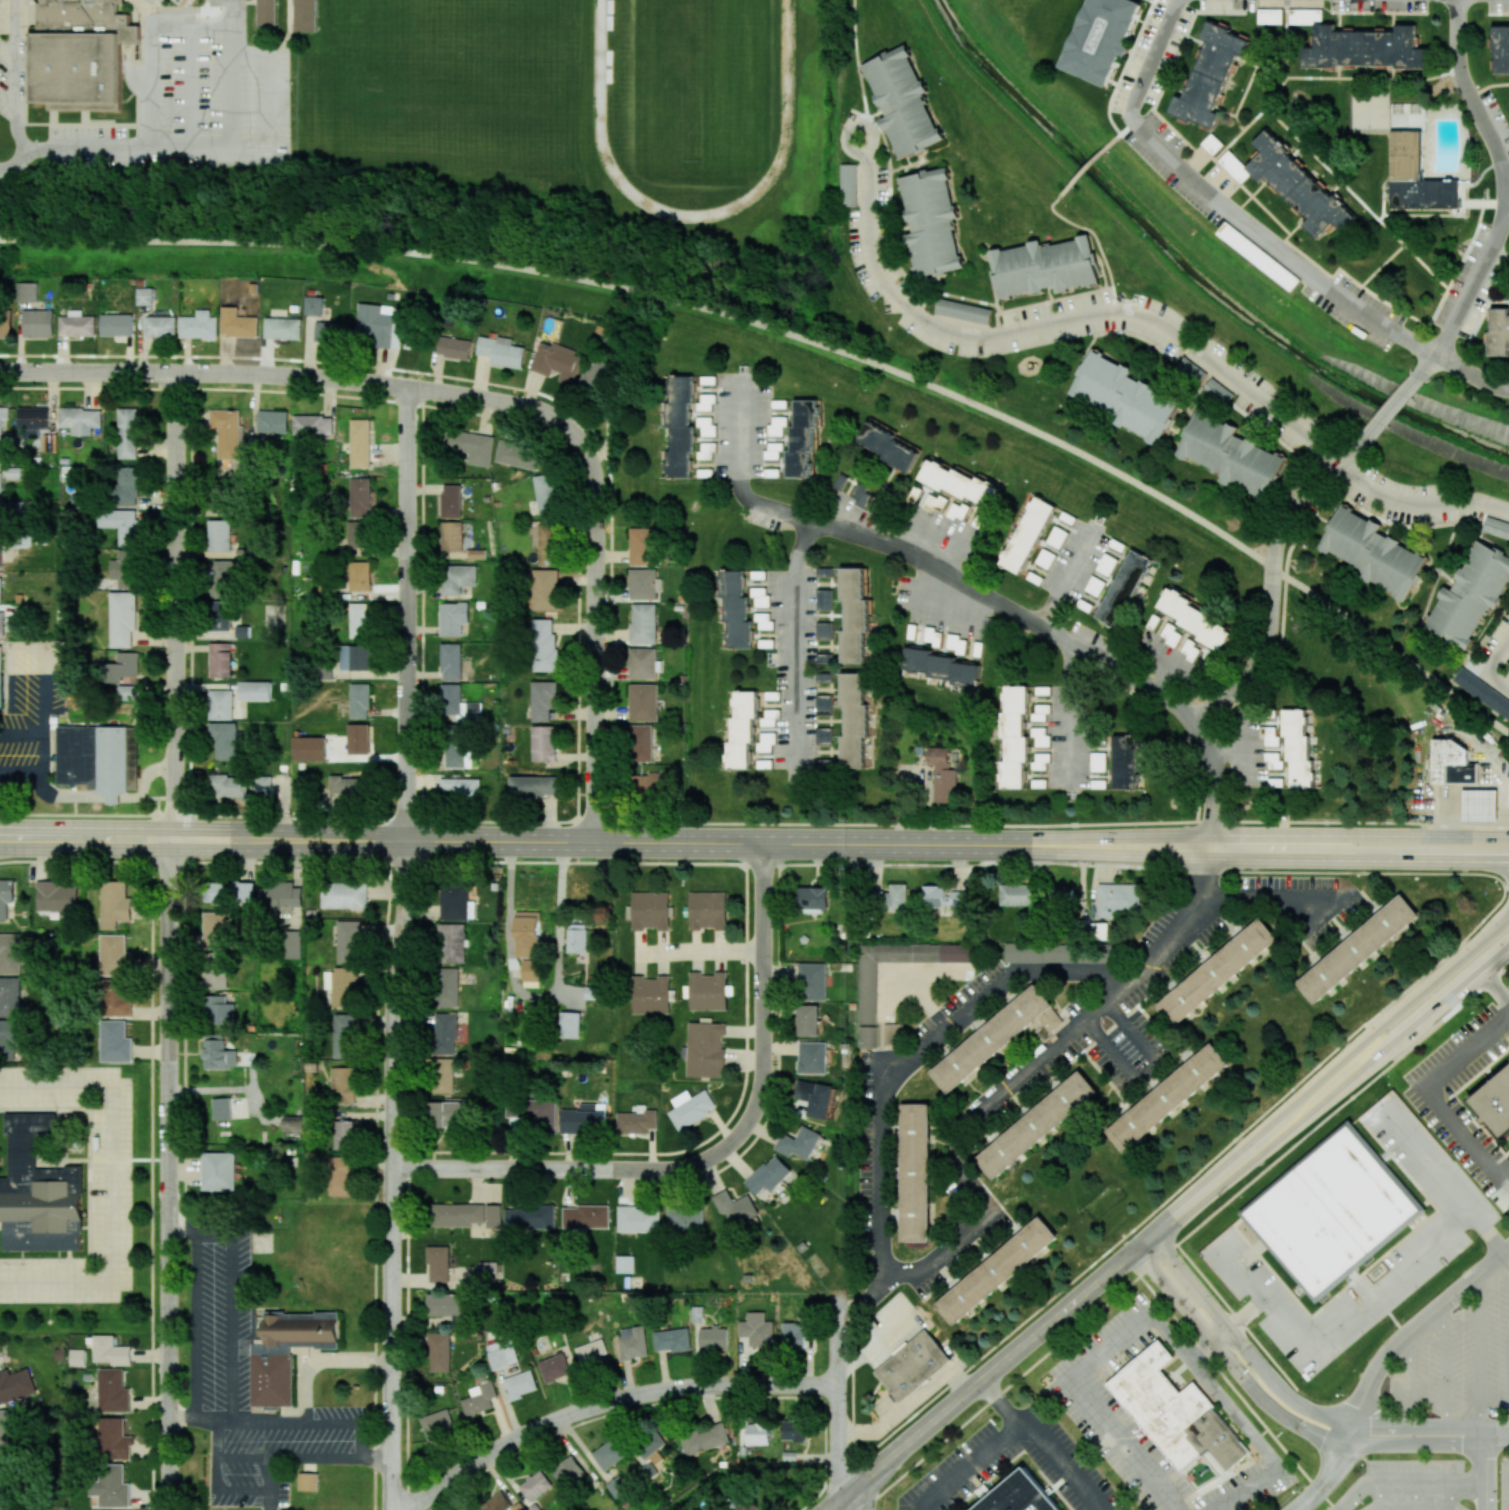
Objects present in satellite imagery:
parking lot: (222, 2)
road: (227, 6)
road: (168, 8)
building: (266, 12)
building: (305, 15)
building: (1270, 16)
building: (1305, 16)
road: (288, 32)
building: (1102, 38)
road: (150, 46)
building: (1364, 47)
building: (1500, 49)
building: (79, 54)
road: (24, 61)
road: (859, 69)
building: (1210, 75)
parking lot: (5, 78)
park: (694, 80)
road: (189, 85)
road: (16, 95)
road: (269, 97)
road: (1471, 98)
track: (693, 99)
parking lot: (194, 101)
building: (902, 102)
road: (68, 123)
road: (93, 124)
road: (1126, 128)
building: (1212, 144)
road: (201, 145)
road: (1089, 166)
building: (1416, 176)
building: (848, 184)
building: (1296, 184)
road: (1506, 189)
road: (1506, 197)
road: (1226, 207)
building: (931, 222)
road: (1097, 241)
building: (1258, 256)
building: (1045, 267)
river: (1190, 270)
road: (1470, 289)
building: (26, 291)
building: (144, 296)
building: (314, 305)
building: (963, 311)
building: (239, 322)
building: (37, 323)
road: (1052, 323)
building: (77, 324)
building: (116, 324)
building: (379, 324)
building: (5, 325)
building: (160, 326)
building: (198, 326)
building: (282, 328)
building: (329, 332)
building: (1497, 333)
road: (803, 337)
building: (453, 347)
building: (502, 351)
building: (557, 362)
building: (1191, 370)
road: (1472, 373)
road: (278, 376)
building: (595, 376)
building: (1217, 391)
road: (318, 396)
building: (1124, 397)
building: (706, 402)
road: (1391, 408)
building: (31, 420)
building: (80, 420)
building: (272, 421)
building: (312, 425)
building: (777, 425)
building: (680, 426)
building: (706, 426)
building: (1, 430)
building: (226, 432)
building: (128, 433)
building: (802, 439)
building: (49, 442)
building: (359, 443)
building: (470, 446)
building: (888, 446)
building: (774, 450)
road: (1352, 450)
building: (706, 451)
building: (517, 454)
building: (3, 455)
building: (1231, 455)
building: (957, 481)
building: (0, 485)
building: (126, 487)
road: (610, 492)
building: (546, 493)
building: (861, 494)
building: (359, 497)
building: (451, 501)
road: (1418, 504)
building: (945, 506)
building: (121, 524)
building: (1496, 527)
building: (219, 535)
building: (357, 535)
building: (1027, 535)
building: (451, 536)
building: (1057, 537)
building: (546, 544)
building: (644, 546)
building: (1373, 552)
building: (0, 553)
building: (1045, 558)
building: (124, 569)
building: (359, 576)
road: (1068, 577)
building: (222, 578)
building: (457, 578)
building: (643, 583)
building: (1095, 586)
building: (1124, 588)
building: (0, 589)
building: (545, 589)
road: (975, 589)
road: (1270, 594)
building: (1470, 595)
building: (825, 599)
building: (481, 604)
road: (174, 607)
building: (735, 609)
road: (407, 614)
building: (219, 615)
building: (854, 615)
building: (122, 618)
building: (453, 618)
building: (358, 620)
road: (594, 621)
building: (763, 621)
building: (1197, 621)
building: (643, 623)
building: (1, 624)
building: (824, 630)
building: (243, 631)
building: (1171, 634)
building: (543, 645)
building: (1190, 650)
road: (796, 653)
road: (1497, 654)
building: (353, 657)
building: (824, 658)
building: (220, 660)
building: (451, 661)
building: (644, 664)
building: (120, 667)
building: (941, 667)
road: (45, 671)
building: (324, 671)
building: (824, 677)
building: (0, 679)
road: (1497, 679)
building: (254, 689)
building: (127, 692)
building: (1482, 692)
building: (359, 700)
building: (542, 700)
building: (644, 703)
building: (221, 704)
building: (458, 704)
building: (824, 704)
building: (1039, 712)
road: (1070, 716)
building: (768, 719)
building: (855, 722)
building: (741, 729)
building: (824, 735)
road: (22, 737)
building: (1040, 737)
building: (1270, 737)
building: (358, 738)
building: (224, 739)
building: (1014, 740)
building: (641, 742)
building: (766, 742)
building: (543, 743)
building: (1298, 747)
building: (309, 748)
building: (457, 755)
building: (94, 758)
building: (1274, 760)
building: (1040, 761)
building: (1098, 762)
building: (1125, 762)
building: (1454, 762)
road: (38, 772)
building: (943, 774)
building: (132, 777)
building: (229, 785)
building: (262, 785)
building: (647, 785)
building: (348, 786)
building: (533, 786)
building: (1040, 786)
building: (463, 787)
building: (1480, 804)
gas station: (1480, 804)
road: (1270, 834)
road: (203, 841)
road: (720, 842)
road: (1261, 859)
road: (1499, 861)
road: (1500, 865)
building: (230, 891)
building: (345, 893)
building: (1017, 894)
building: (57, 895)
building: (1060, 895)
building: (5, 896)
building: (280, 897)
building: (944, 897)
road: (1266, 897)
building: (892, 898)
building: (812, 899)
building: (1118, 899)
building: (454, 902)
building: (115, 904)
building: (650, 910)
building: (708, 910)
road: (1504, 919)
road: (1504, 920)
building: (217, 930)
building: (1101, 931)
building: (528, 934)
building: (577, 937)
building: (348, 942)
building: (452, 943)
building: (292, 944)
building: (1355, 947)
building: (9, 953)
road: (699, 953)
building: (1042, 953)
building: (116, 955)
road: (762, 968)
building: (530, 969)
building: (1219, 971)
road: (1441, 974)
building: (216, 979)
building: (813, 981)
building: (341, 986)
building: (447, 987)
building: (708, 991)
road: (1494, 991)
building: (592, 992)
building: (867, 993)
building: (650, 994)
building: (10, 996)
road: (537, 999)
building: (219, 1010)
road: (1434, 1012)
building: (806, 1019)
building: (569, 1024)
building: (445, 1033)
building: (893, 1034)
building: (343, 1035)
building: (868, 1036)
building: (989, 1037)
building: (9, 1039)
building: (116, 1042)
building: (705, 1049)
building: (219, 1053)
road: (919, 1053)
building: (812, 1057)
road: (1141, 1067)
road: (1334, 1071)
building: (441, 1075)
road: (1013, 1084)
building: (342, 1085)
building: (1169, 1097)
road: (1321, 1097)
road: (1433, 1097)
building: (815, 1098)
building: (1496, 1103)
building: (222, 1108)
building: (692, 1109)
building: (450, 1113)
building: (535, 1113)
building: (584, 1118)
building: (637, 1120)
building: (294, 1124)
building: (1036, 1125)
building: (344, 1134)
building: (798, 1143)
road: (594, 1170)
building: (219, 1171)
building: (913, 1173)
road: (170, 1175)
building: (339, 1175)
road: (393, 1175)
building: (769, 1175)
road: (1441, 1177)
road: (111, 1184)
road: (1211, 1185)
building: (38, 1191)
road: (1162, 1202)
building: (736, 1207)
building: (1329, 1211)
building: (494, 1213)
building: (585, 1216)
building: (530, 1218)
building: (638, 1219)
building: (685, 1219)
road: (182, 1228)
road: (212, 1232)
road: (1182, 1239)
parking lot: (1437, 1241)
building: (626, 1262)
building: (438, 1264)
building: (488, 1271)
building: (995, 1272)
building: (447, 1304)
road: (1238, 1319)
road: (1334, 1325)
building: (757, 1330)
building: (792, 1335)
building: (713, 1338)
building: (671, 1340)
building: (632, 1342)
road: (1214, 1343)
road: (1243, 1345)
road: (1390, 1350)
building: (110, 1351)
building: (440, 1352)
road: (1202, 1352)
building: (285, 1353)
building: (591, 1353)
road: (1479, 1353)
building: (501, 1355)
building: (77, 1357)
road: (318, 1361)
road: (1446, 1363)
parking lot: (1460, 1363)
building: (912, 1365)
building: (555, 1367)
road: (1069, 1378)
road: (982, 1380)
road: (1407, 1380)
building: (15, 1384)
building: (520, 1384)
building: (113, 1391)
building: (479, 1399)
road: (839, 1399)
building: (1158, 1400)
road: (611, 1402)
road: (1340, 1408)
road: (1379, 1411)
building: (438, 1425)
road: (1421, 1427)
road: (1307, 1429)
building: (4, 1430)
building: (793, 1430)
building: (757, 1434)
road: (1498, 1434)
road: (368, 1436)
road: (1330, 1437)
building: (704, 1438)
building: (1216, 1438)
building: (114, 1439)
road: (1044, 1439)
road: (1418, 1444)
road: (1261, 1446)
building: (651, 1447)
building: (608, 1454)
road: (1324, 1454)
road: (1349, 1465)
road: (967, 1467)
building: (567, 1471)
road: (1487, 1472)
building: (4, 1481)
building: (308, 1481)
parking lot: (1504, 1482)
road: (1407, 1483)
building: (535, 1485)
parking lot: (1409, 1485)
building: (110, 1486)
road: (871, 1492)
building: (1019, 1495)
road: (1380, 1496)
road: (1415, 1496)
road: (1452, 1496)
road: (852, 1499)
road: (1308, 1500)
building: (497, 1502)
building: (748, 1505)
building: (467, 1508)
road: (1339, 1509)

